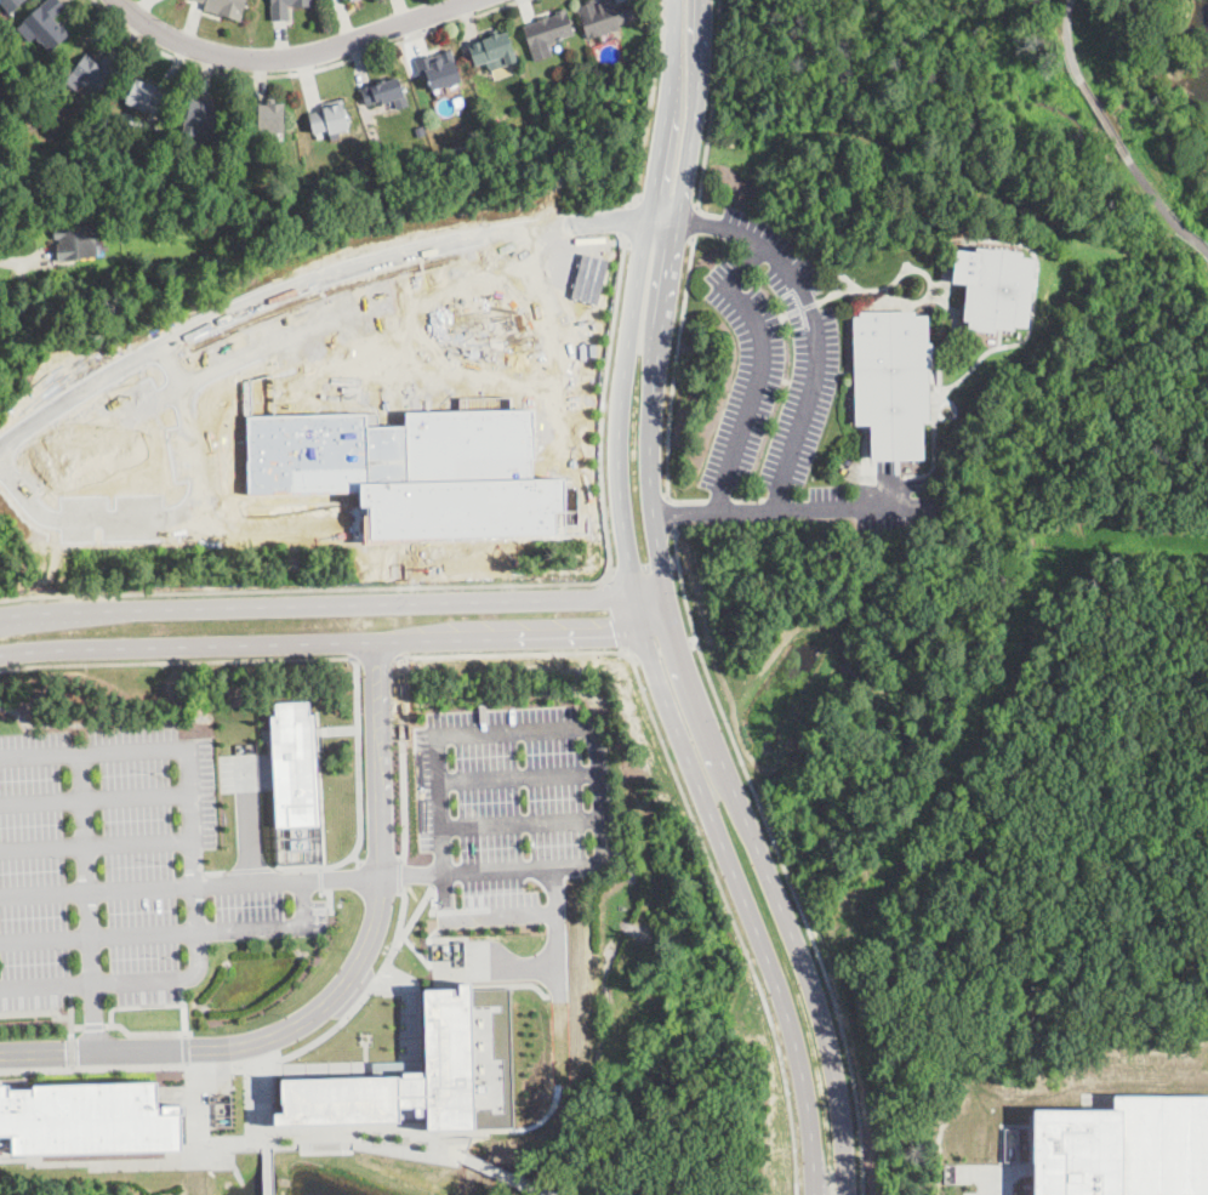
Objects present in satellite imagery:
building: (10, 5)
building: (226, 7)
building: (285, 7)
building: (604, 16)
building: (45, 24)
building: (548, 33)
road: (1067, 39)
building: (494, 49)
road: (292, 56)
building: (439, 70)
building: (92, 73)
road: (306, 73)
building: (383, 91)
building: (146, 98)
road: (713, 104)
road: (650, 108)
road: (1104, 115)
building: (268, 116)
building: (200, 118)
building: (329, 119)
building: (421, 133)
park: (1005, 176)
road: (1152, 190)
road: (668, 204)
road: (627, 221)
road: (696, 222)
road: (699, 226)
road: (1193, 238)
road: (660, 240)
building: (75, 243)
road: (15, 261)
road: (319, 278)
building: (995, 288)
road: (636, 297)
road: (662, 314)
road: (559, 321)
road: (816, 348)
parking lot: (769, 366)
road: (166, 368)
road: (216, 368)
road: (676, 368)
road: (760, 370)
building: (891, 381)
road: (97, 443)
building: (399, 462)
road: (729, 511)
road: (672, 517)
road: (676, 563)
road: (642, 568)
road: (480, 585)
road: (649, 593)
road: (317, 603)
road: (617, 614)
road: (336, 642)
road: (375, 658)
road: (177, 661)
road: (588, 732)
road: (404, 758)
building: (298, 763)
road: (520, 779)
road: (360, 797)
road: (96, 799)
parking lot: (509, 810)
road: (690, 810)
road: (250, 819)
road: (523, 824)
road: (97, 844)
road: (357, 861)
road: (781, 861)
road: (196, 864)
road: (383, 864)
road: (251, 869)
parking lot: (121, 870)
road: (216, 870)
road: (403, 876)
road: (320, 877)
road: (321, 880)
road: (98, 890)
road: (739, 890)
road: (330, 897)
road: (89, 901)
road: (779, 906)
road: (414, 917)
road: (503, 918)
road: (175, 934)
road: (559, 957)
road: (338, 989)
road: (252, 1066)
building: (424, 1072)
building: (89, 1117)
road: (363, 1137)
building: (1123, 1148)
road: (264, 1166)
road: (505, 1174)
road: (1003, 1182)

